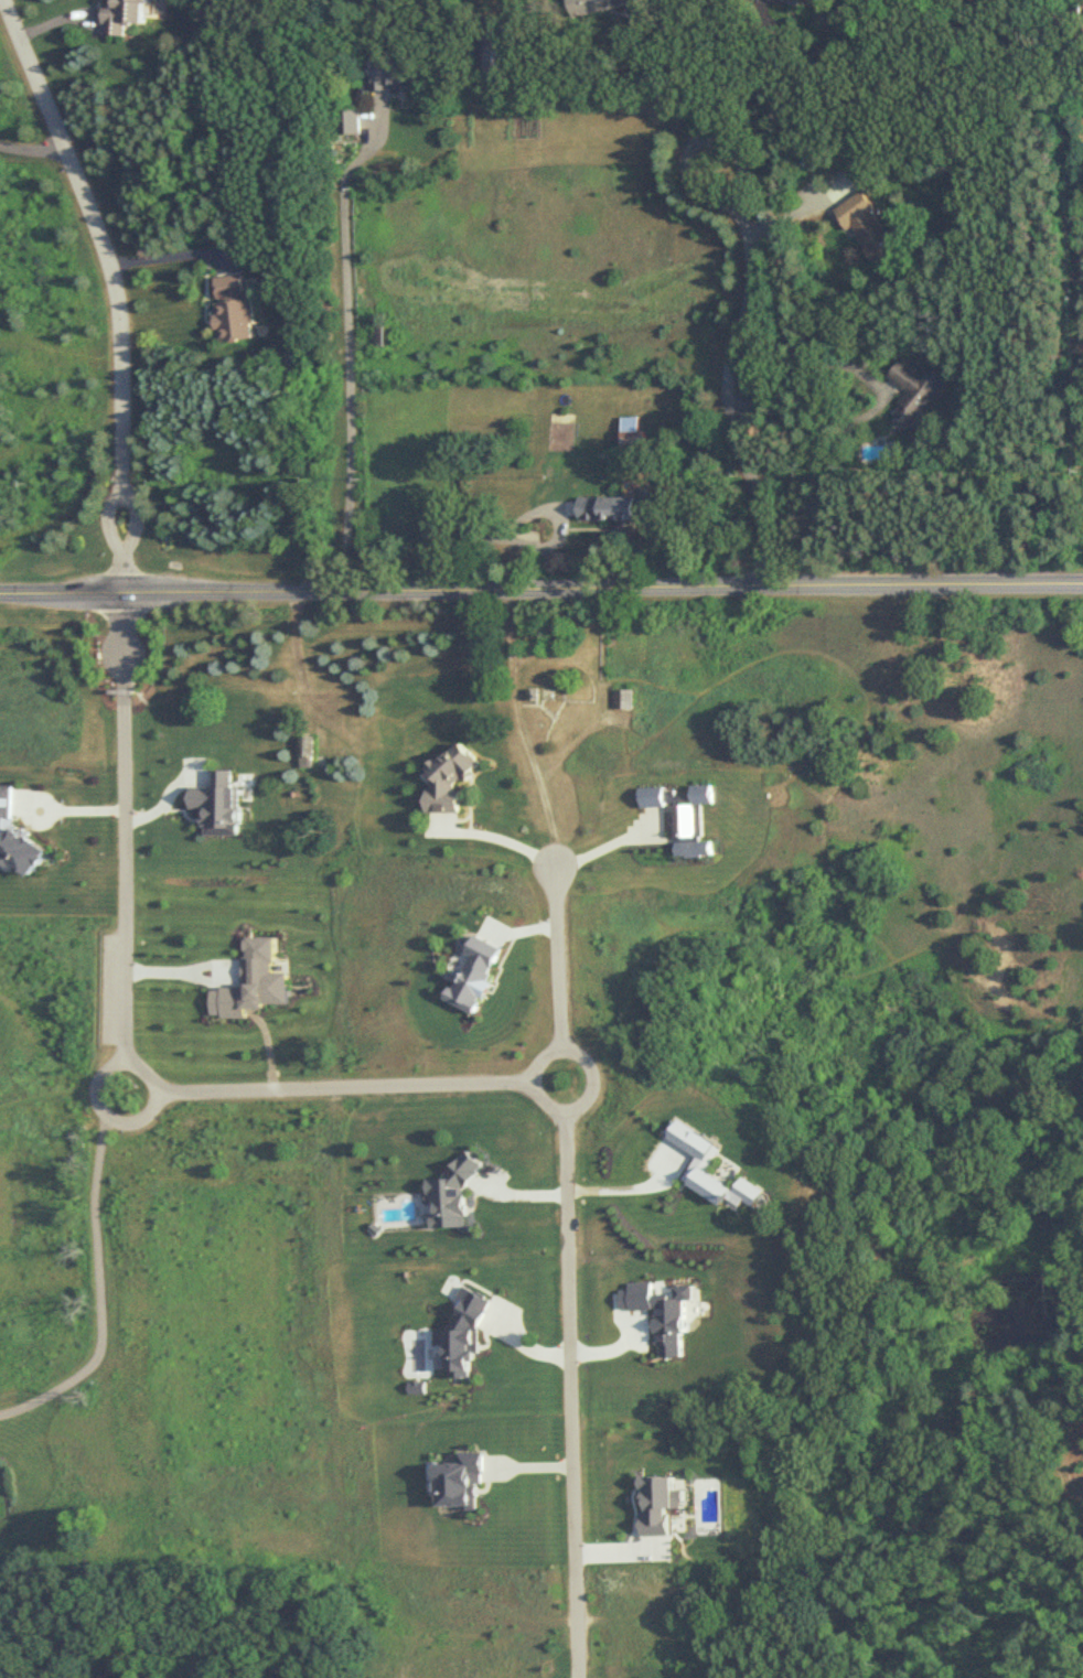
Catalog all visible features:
building: (589, 7)
building: (121, 17)
building: (496, 51)
building: (388, 74)
road: (750, 75)
road: (656, 78)
building: (347, 123)
road: (31, 150)
building: (867, 229)
road: (167, 252)
road: (114, 286)
road: (748, 298)
building: (237, 306)
road: (812, 357)
road: (346, 374)
building: (913, 391)
building: (631, 443)
building: (609, 512)
road: (524, 517)
road: (541, 589)
building: (625, 700)
road: (523, 729)
building: (304, 752)
road: (47, 808)
road: (121, 828)
road: (497, 838)
road: (610, 845)
road: (557, 958)
road: (128, 1065)
road: (529, 1080)
road: (341, 1088)
building: (693, 1090)
road: (625, 1185)
road: (99, 1287)
road: (570, 1394)

